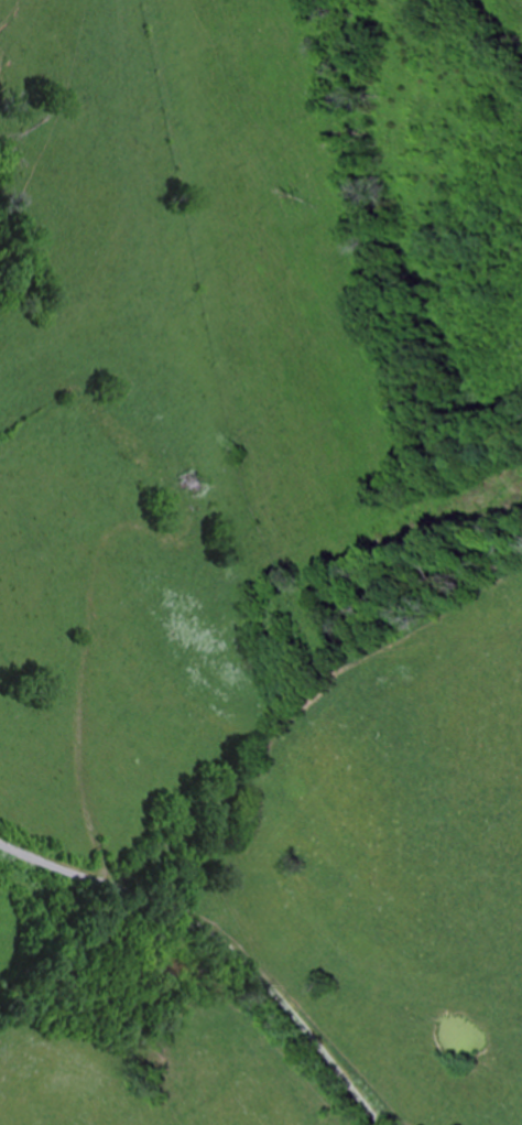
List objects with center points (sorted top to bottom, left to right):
road: (204, 640)
road: (220, 938)

